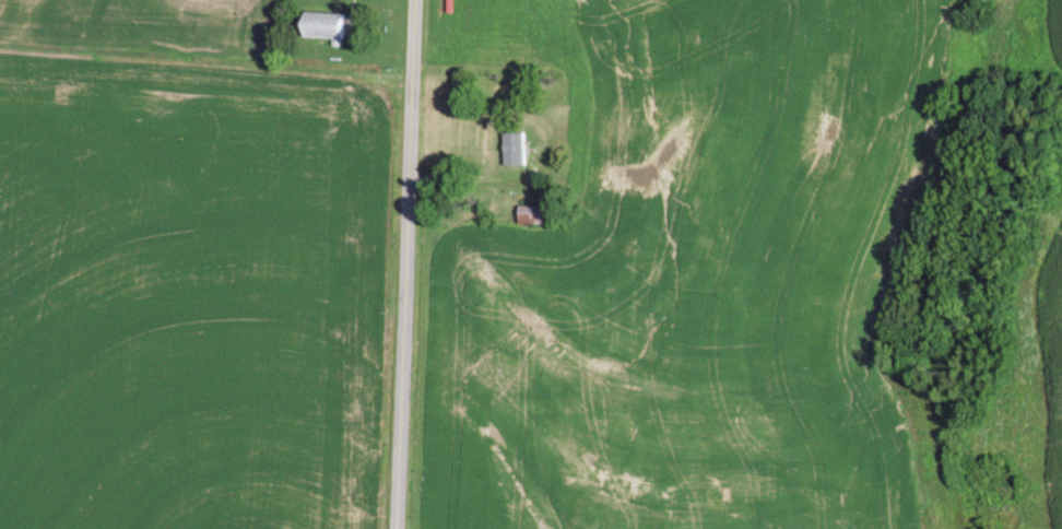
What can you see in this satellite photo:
building: (327, 26)
road: (209, 51)
building: (515, 149)
road: (409, 263)

